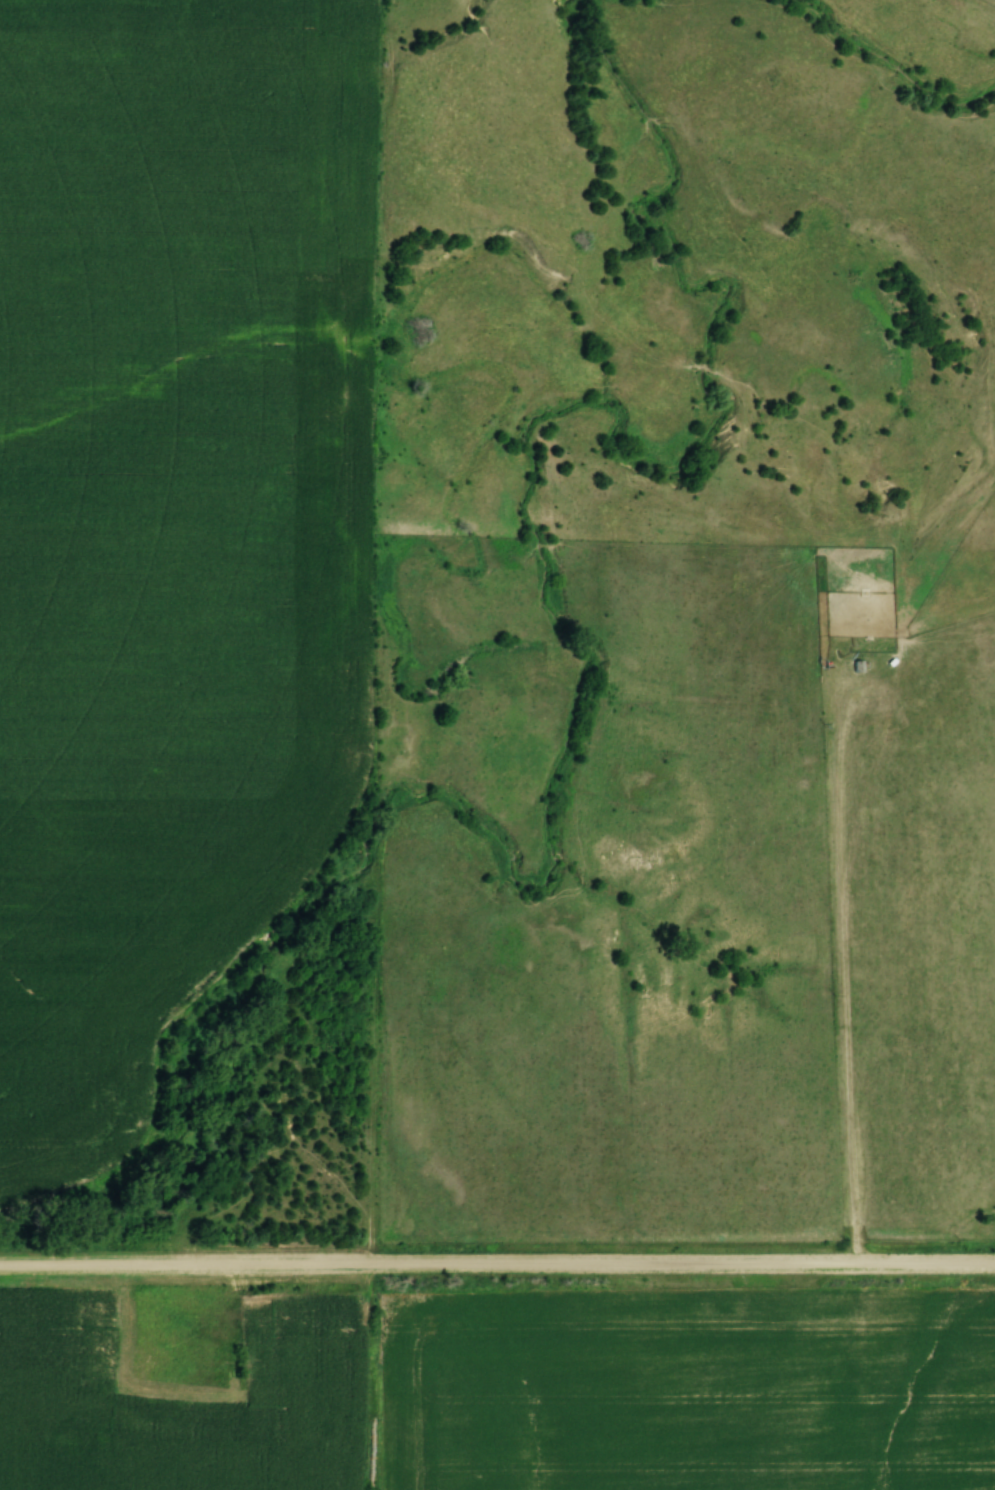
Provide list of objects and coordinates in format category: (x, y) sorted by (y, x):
road: (497, 1264)

